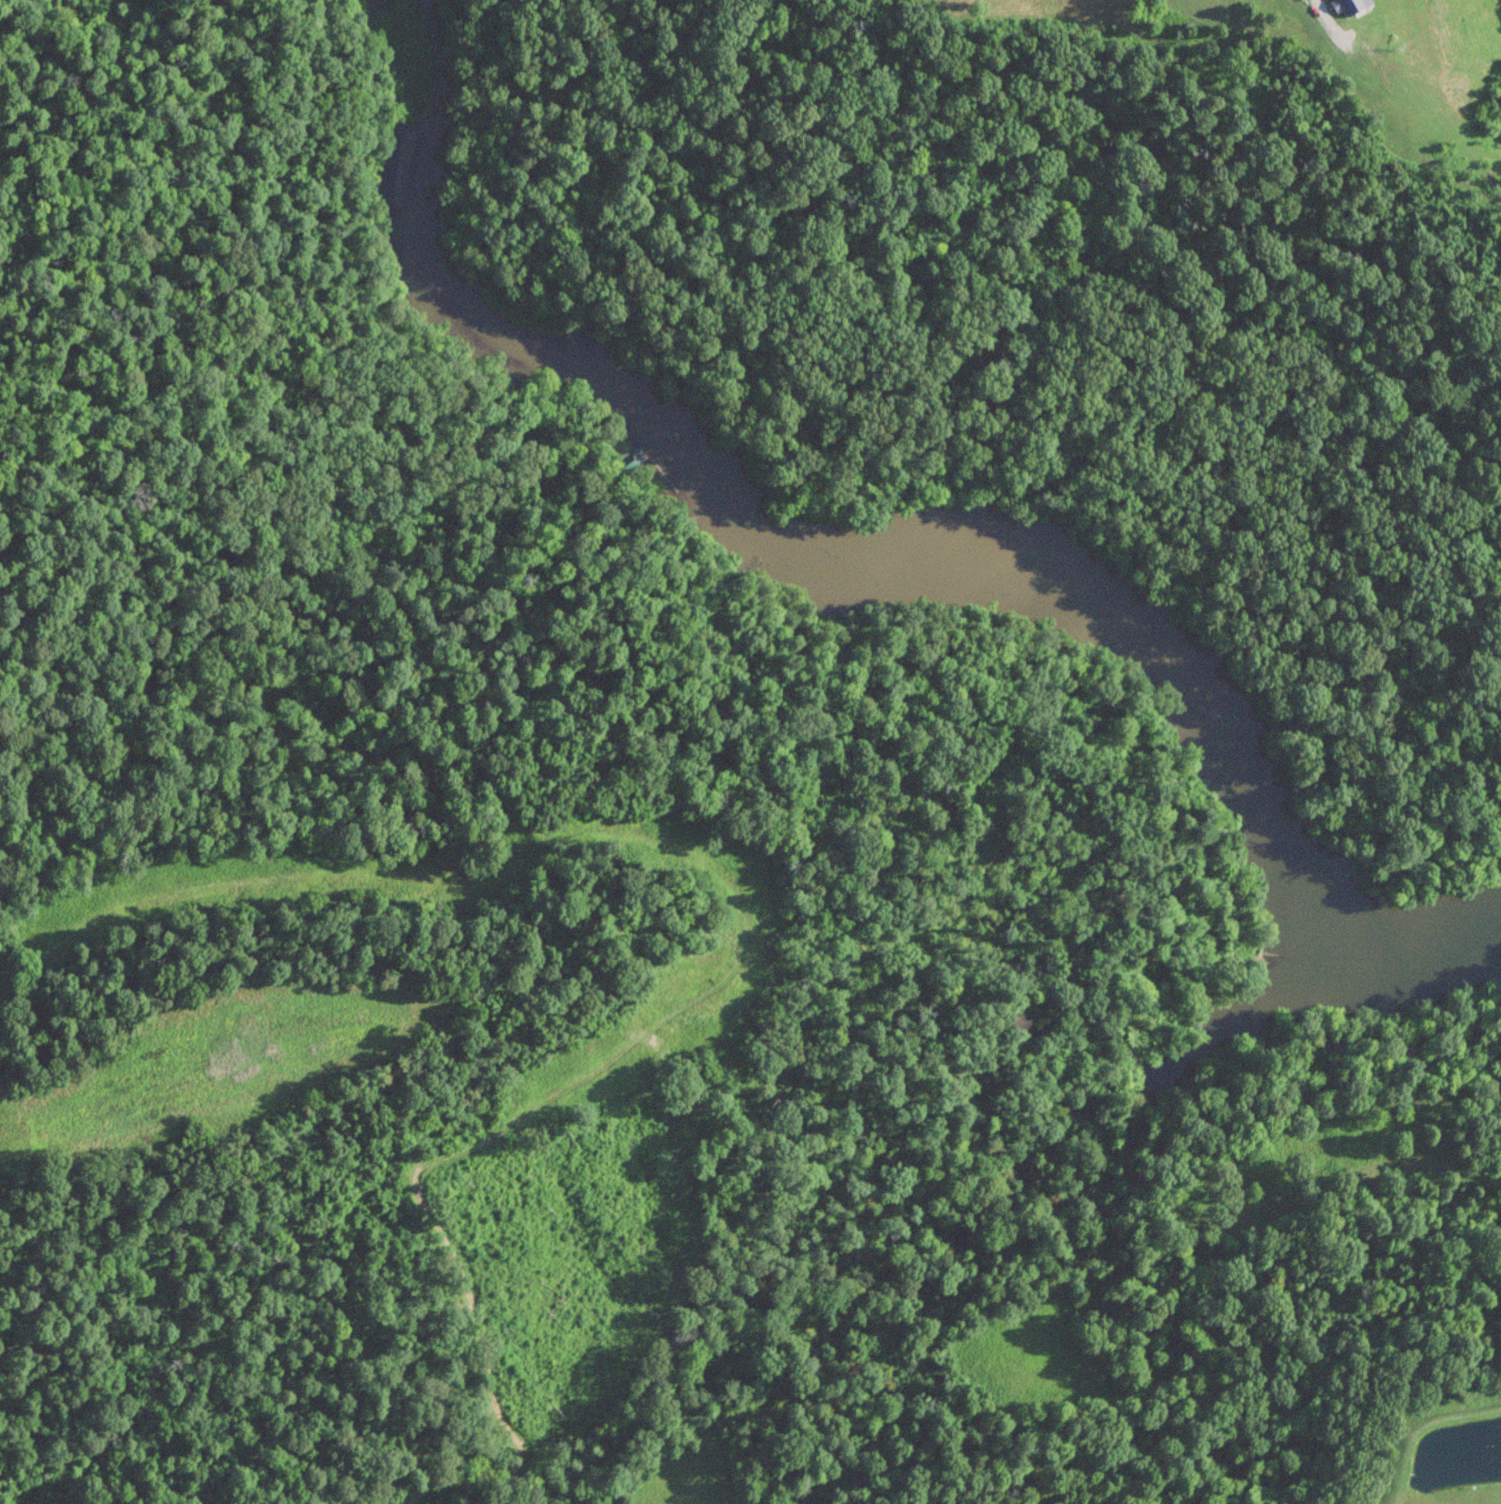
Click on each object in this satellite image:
road: (1316, 3)

